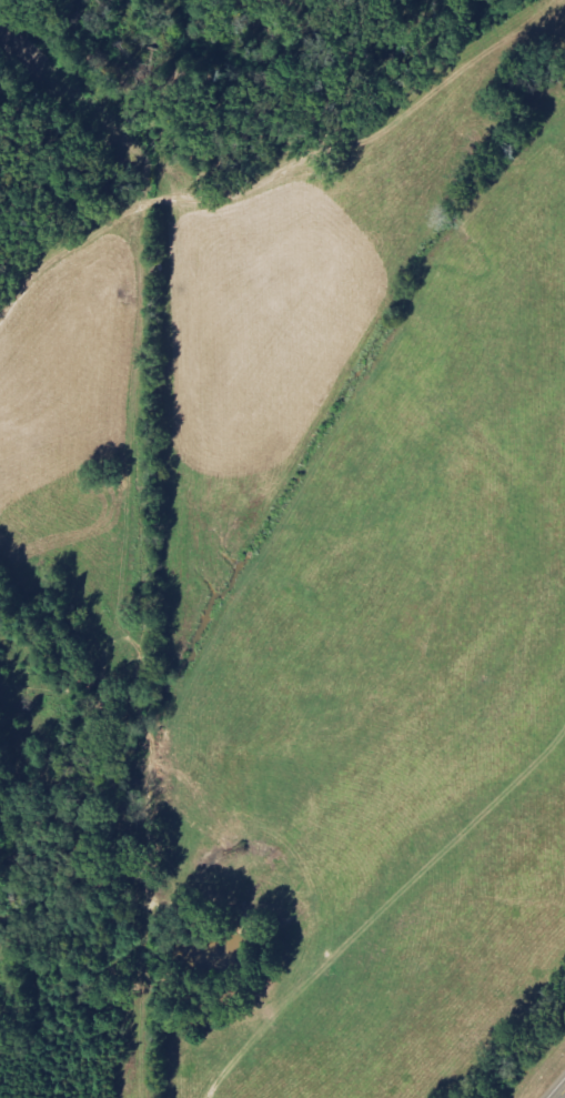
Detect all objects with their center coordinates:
road: (561, 1094)

